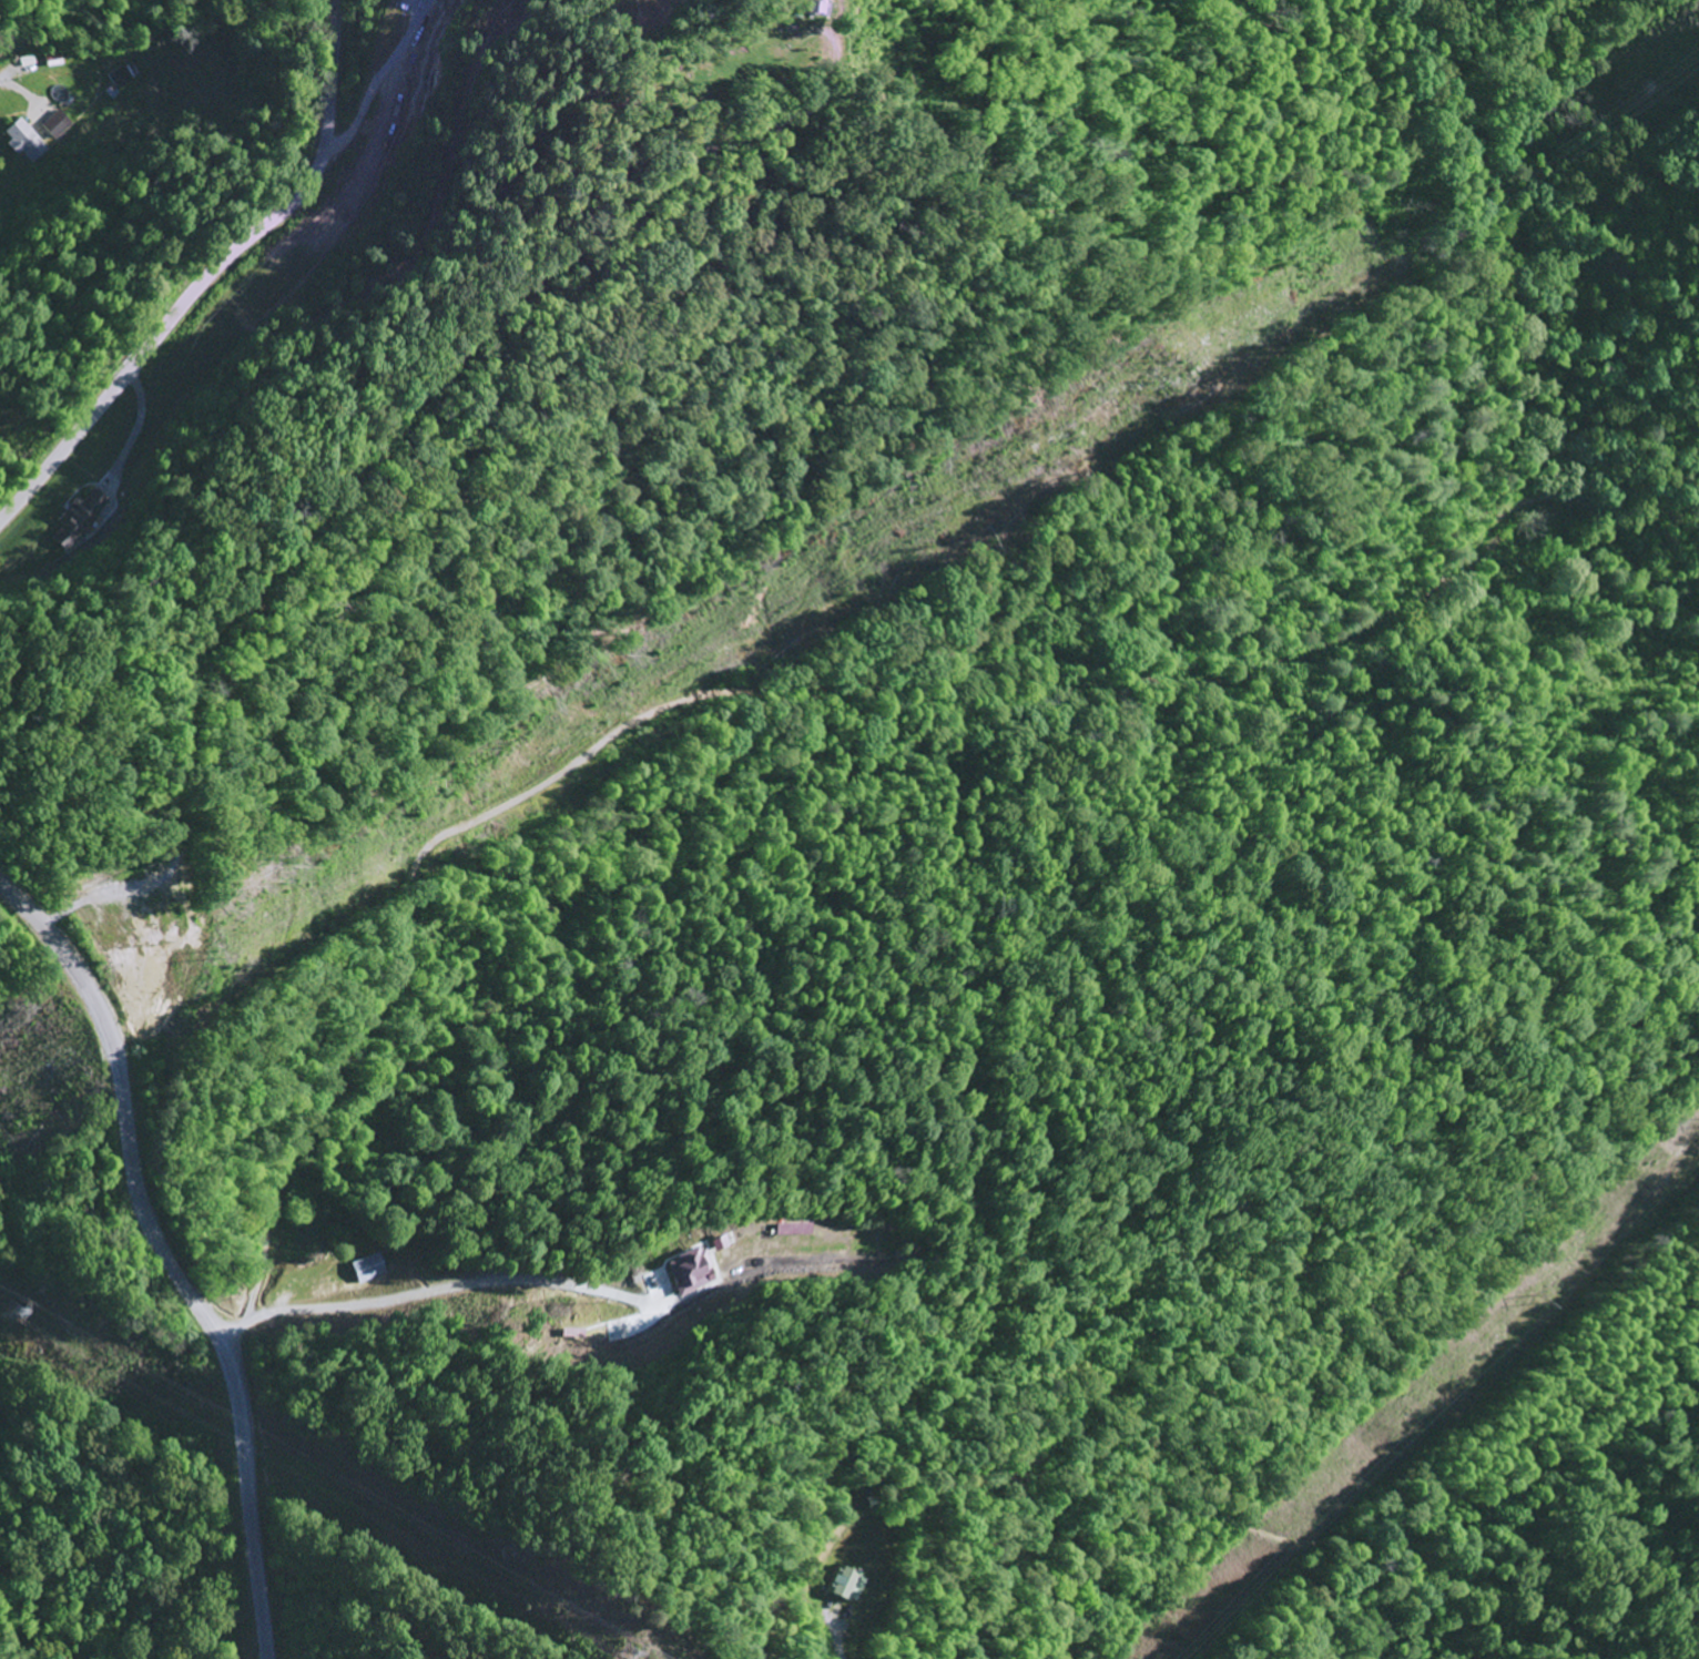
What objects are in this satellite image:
building: (23, 141)
road: (205, 271)
road: (167, 1258)
building: (682, 1272)
road: (427, 1291)
power tower: (1, 1314)
building: (844, 1586)
power tower: (602, 1658)

